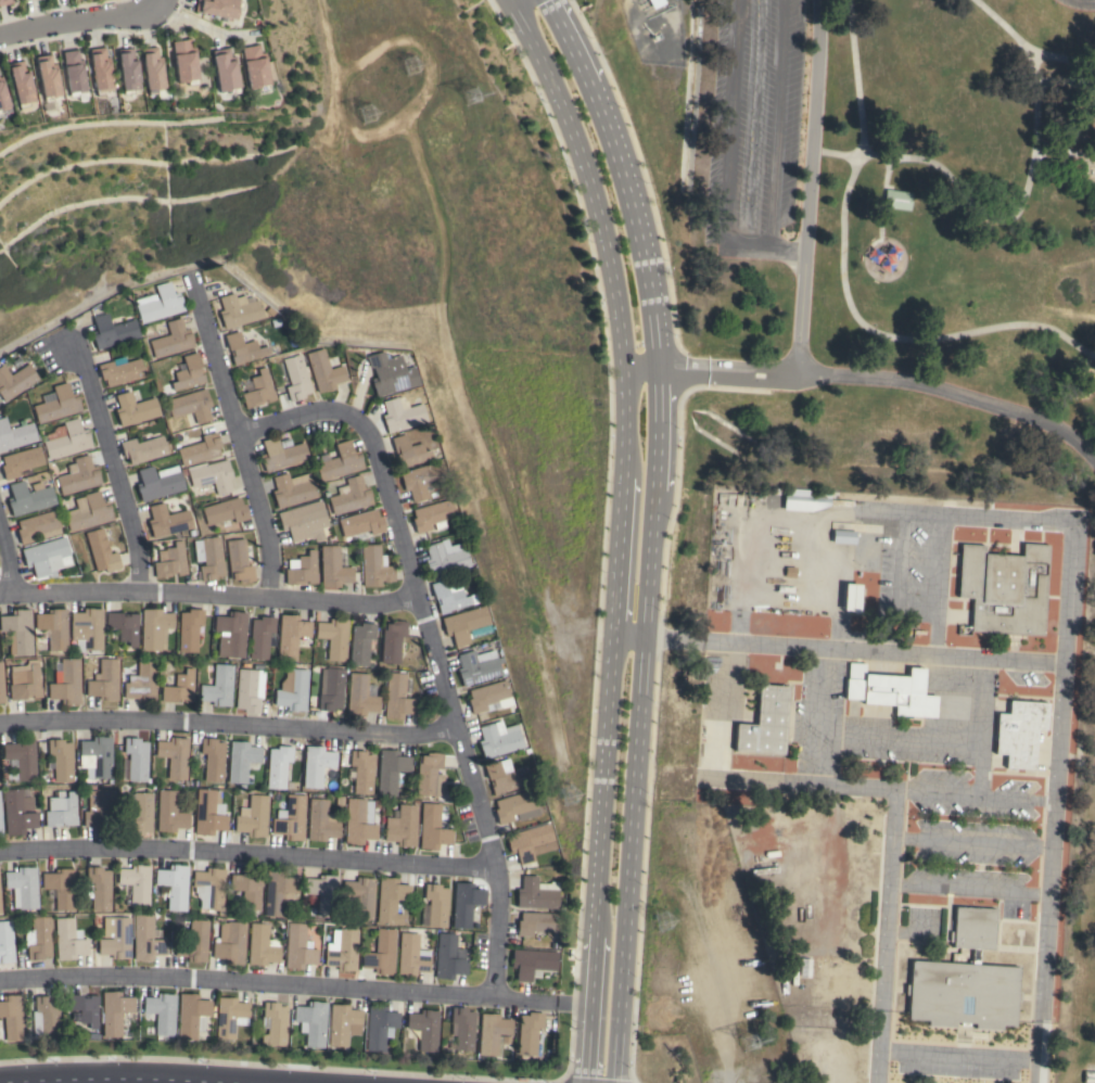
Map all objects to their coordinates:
building: (5, 2)
building: (657, 2)
parking lot: (1079, 3)
building: (219, 8)
road: (76, 21)
road: (200, 25)
road: (1060, 60)
building: (186, 62)
power tower: (408, 66)
building: (255, 67)
building: (129, 71)
building: (226, 71)
building: (101, 72)
building: (154, 72)
building: (74, 73)
building: (48, 77)
road: (1066, 82)
building: (22, 85)
building: (2, 95)
power tower: (472, 98)
power tower: (365, 116)
road: (731, 123)
road: (775, 125)
parking lot: (751, 126)
road: (1058, 151)
road: (852, 155)
road: (808, 188)
building: (896, 199)
road: (1019, 206)
road: (765, 249)
park: (886, 275)
road: (843, 286)
building: (160, 303)
building: (239, 309)
building: (112, 331)
building: (170, 337)
building: (244, 348)
building: (120, 370)
building: (324, 370)
building: (189, 372)
building: (391, 373)
road: (868, 377)
building: (295, 378)
building: (15, 380)
building: (259, 391)
building: (56, 404)
building: (191, 405)
building: (135, 408)
building: (402, 413)
road: (240, 434)
building: (15, 435)
building: (68, 441)
building: (143, 448)
building: (201, 449)
building: (409, 450)
building: (282, 454)
building: (21, 461)
building: (340, 461)
road: (115, 467)
building: (79, 475)
building: (213, 475)
building: (421, 479)
building: (158, 482)
building: (292, 488)
building: (351, 495)
building: (29, 497)
building: (808, 499)
building: (226, 510)
building: (88, 511)
road: (900, 512)
building: (433, 514)
building: (301, 519)
building: (167, 520)
building: (361, 523)
building: (37, 526)
road: (621, 531)
road: (654, 532)
building: (842, 536)
building: (101, 551)
road: (10, 557)
building: (44, 557)
building: (208, 557)
building: (445, 558)
building: (170, 560)
building: (239, 560)
building: (374, 565)
building: (333, 568)
building: (302, 569)
building: (952, 581)
building: (1004, 589)
building: (450, 595)
road: (211, 596)
building: (850, 596)
building: (467, 625)
building: (124, 626)
building: (53, 627)
building: (87, 628)
building: (154, 628)
building: (189, 629)
building: (17, 630)
building: (231, 634)
building: (291, 636)
building: (260, 637)
building: (334, 637)
road: (631, 637)
building: (392, 640)
building: (361, 642)
road: (435, 645)
road: (855, 651)
building: (476, 668)
road: (1062, 671)
building: (24, 680)
building: (104, 680)
building: (66, 683)
building: (141, 684)
building: (1, 686)
building: (218, 686)
building: (179, 688)
building: (250, 689)
building: (331, 689)
building: (293, 690)
building: (890, 690)
building: (361, 695)
building: (489, 696)
building: (397, 697)
road: (817, 716)
building: (764, 723)
road: (230, 724)
building: (1019, 731)
building: (498, 738)
building: (174, 755)
building: (96, 756)
building: (22, 757)
building: (136, 759)
building: (213, 759)
building: (61, 760)
building: (241, 760)
building: (317, 765)
building: (278, 766)
building: (364, 770)
building: (392, 770)
building: (430, 774)
building: (501, 776)
power tower: (566, 793)
road: (971, 798)
building: (517, 806)
building: (61, 810)
building: (100, 810)
building: (18, 811)
building: (169, 812)
building: (208, 813)
building: (137, 814)
building: (253, 816)
building: (290, 817)
building: (321, 820)
building: (359, 821)
building: (403, 826)
building: (433, 827)
building: (0, 828)
road: (891, 841)
building: (531, 842)
road: (971, 844)
road: (250, 854)
building: (136, 882)
building: (173, 885)
building: (22, 887)
building: (60, 887)
building: (97, 888)
building: (246, 888)
building: (209, 889)
building: (278, 891)
building: (323, 893)
building: (536, 893)
building: (360, 896)
building: (390, 900)
building: (436, 904)
building: (466, 904)
building: (537, 922)
power tower: (664, 927)
building: (38, 938)
building: (115, 938)
building: (69, 939)
building: (145, 939)
building: (5, 942)
building: (194, 942)
building: (230, 942)
building: (262, 944)
building: (297, 947)
building: (344, 951)
building: (381, 952)
building: (411, 954)
building: (448, 956)
building: (532, 961)
building: (964, 980)
road: (295, 985)
building: (84, 1007)
building: (114, 1011)
building: (162, 1011)
building: (191, 1015)
building: (230, 1016)
building: (11, 1017)
building: (48, 1017)
building: (275, 1022)
building: (311, 1022)
building: (343, 1023)
building: (379, 1027)
building: (424, 1028)
building: (462, 1028)
building: (492, 1032)
building: (529, 1032)
power tower: (747, 1039)
road: (956, 1056)
building: (1088, 1076)
road: (115, 1078)

